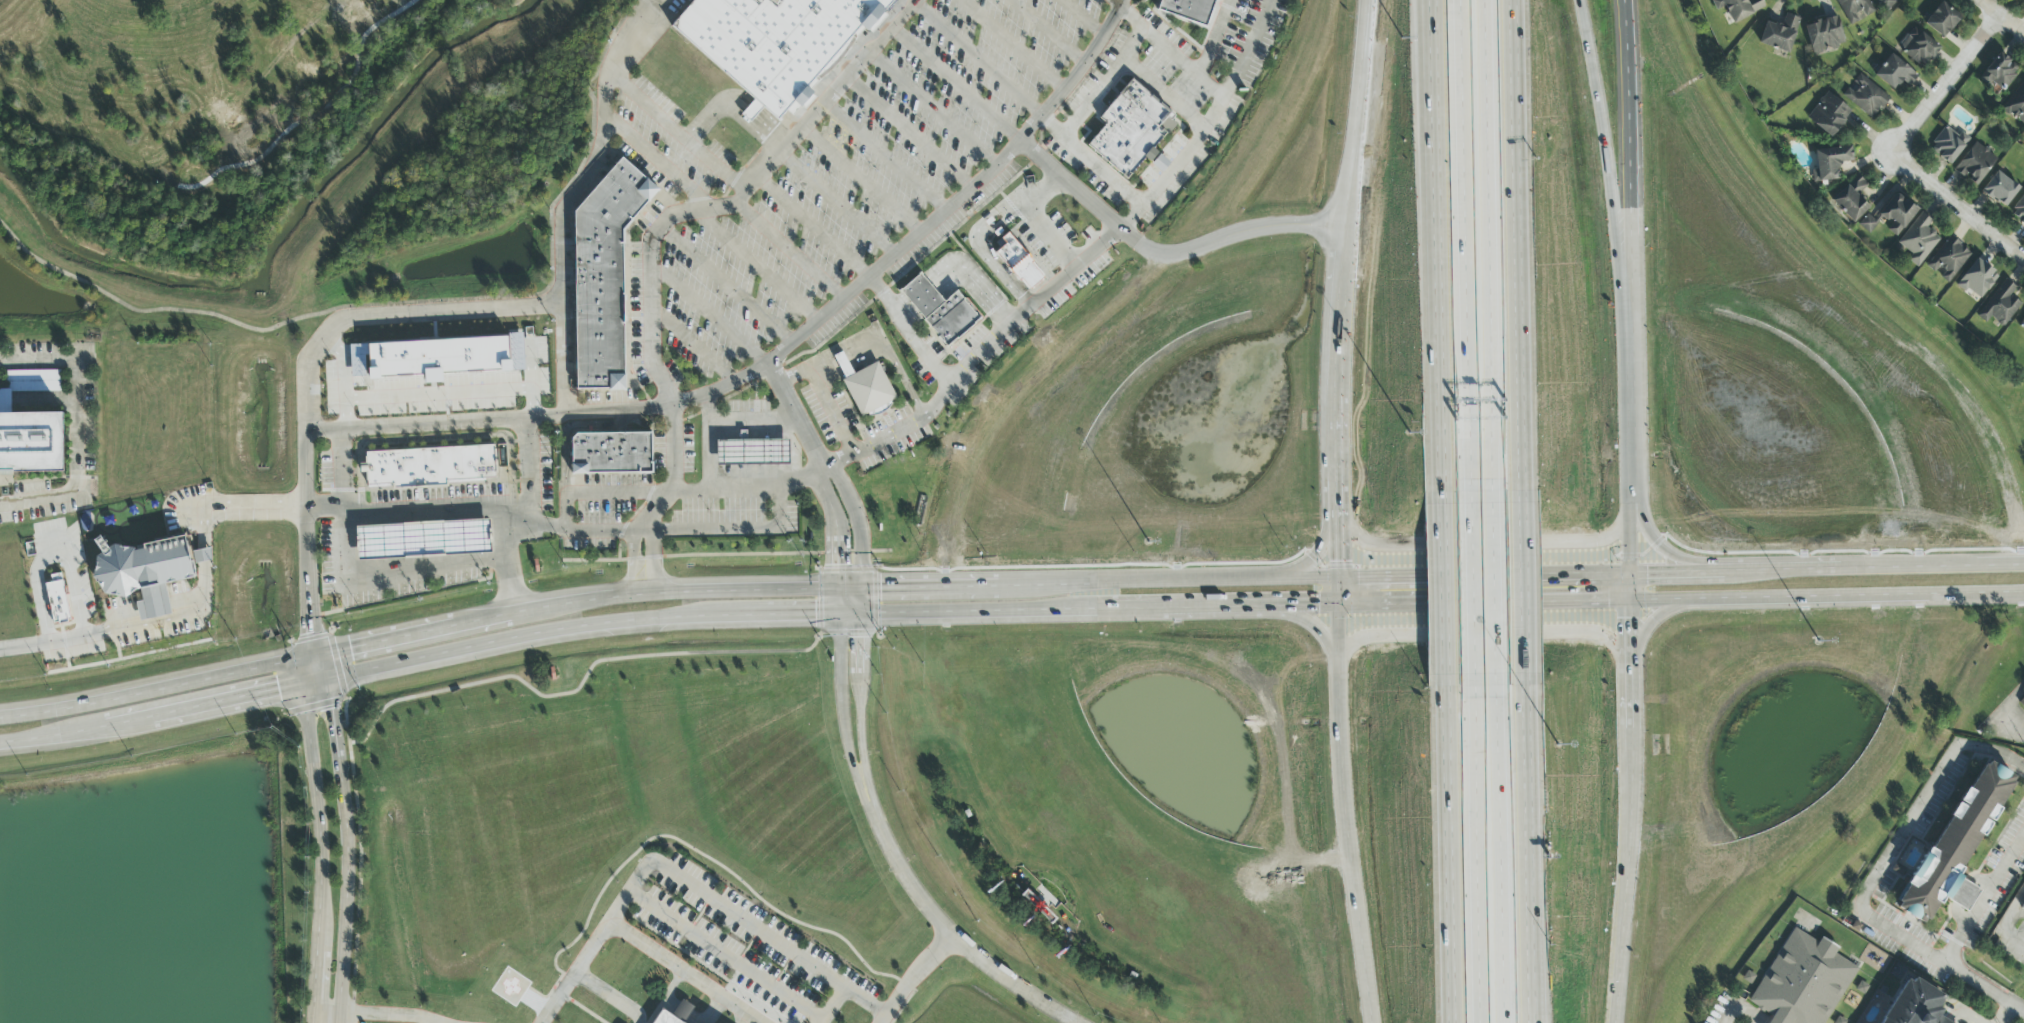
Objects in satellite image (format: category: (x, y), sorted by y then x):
building: (1886, 3)
building: (1738, 8)
building: (1190, 9)
building: (1855, 9)
road: (1086, 16)
road: (2001, 17)
road: (1221, 19)
building: (1941, 20)
road: (1051, 29)
road: (1253, 32)
building: (1779, 34)
building: (1824, 35)
building: (778, 40)
road: (1012, 44)
building: (1918, 47)
road: (1204, 55)
road: (975, 58)
road: (1524, 67)
road: (1518, 68)
building: (1999, 72)
building: (1894, 73)
road: (956, 80)
road: (1233, 80)
road: (1105, 83)
road: (1944, 83)
road: (1163, 94)
building: (1865, 96)
building: (2016, 104)
road: (932, 106)
road: (1217, 109)
road: (713, 110)
road: (751, 110)
building: (1828, 114)
building: (1129, 126)
road: (1361, 126)
road: (769, 127)
road: (677, 129)
road: (909, 130)
building: (1948, 145)
road: (886, 153)
road: (1629, 153)
road: (1090, 160)
road: (658, 161)
building: (1830, 163)
building: (1159, 164)
building: (1975, 164)
road: (862, 176)
building: (1999, 189)
road: (571, 197)
building: (1851, 200)
road: (837, 201)
road: (734, 205)
road: (1958, 208)
building: (2019, 211)
road: (1429, 215)
building: (1891, 216)
road: (1034, 218)
road: (811, 226)
river: (276, 235)
building: (1918, 240)
road: (1436, 246)
road: (1462, 246)
road: (1487, 246)
road: (984, 251)
road: (791, 252)
road: (1163, 255)
building: (1948, 259)
building: (1018, 261)
road: (758, 265)
road: (1341, 272)
building: (605, 273)
building: (1977, 279)
road: (729, 282)
road: (973, 282)
road: (1851, 293)
road: (922, 294)
road: (416, 302)
building: (2000, 305)
building: (941, 309)
road: (905, 310)
road: (707, 313)
road: (1521, 313)
road: (391, 314)
building: (2022, 325)
road: (908, 328)
road: (1337, 343)
road: (690, 346)
road: (887, 351)
road: (782, 352)
road: (972, 354)
building: (436, 358)
road: (47, 361)
road: (804, 367)
road: (342, 368)
building: (33, 376)
road: (1024, 386)
building: (869, 388)
road: (439, 393)
building: (6, 400)
road: (39, 400)
road: (1632, 405)
road: (830, 409)
road: (798, 414)
road: (754, 421)
road: (709, 442)
building: (31, 443)
building: (612, 452)
building: (743, 452)
road: (1337, 454)
building: (431, 464)
road: (78, 466)
road: (673, 476)
road: (749, 484)
road: (532, 486)
road: (619, 492)
road: (565, 495)
road: (236, 501)
road: (420, 507)
road: (856, 523)
road: (837, 527)
gas station: (425, 539)
road: (307, 540)
building: (380, 542)
road: (1630, 543)
road: (1487, 549)
road: (731, 550)
road: (1338, 552)
road: (1313, 554)
road: (50, 556)
road: (207, 556)
road: (508, 559)
road: (1733, 559)
road: (653, 560)
road: (633, 562)
traffic signals: (1338, 564)
road: (1943, 566)
traffic signals: (839, 567)
road: (1793, 568)
road: (356, 571)
building: (146, 572)
road: (1676, 572)
traffic signals: (1648, 574)
road: (1483, 577)
traffic signals: (1359, 580)
road: (1305, 581)
road: (1215, 582)
road: (1130, 584)
road: (887, 588)
road: (1443, 588)
traffic signals: (880, 589)
road: (1524, 589)
road: (1494, 590)
road: (1472, 591)
road: (1827, 596)
building: (57, 599)
road: (596, 601)
road: (861, 601)
traffic signals: (1607, 601)
road: (838, 602)
road: (1484, 604)
road: (1308, 605)
road: (1221, 606)
traffic signals: (1321, 607)
road: (1137, 609)
road: (985, 610)
road: (849, 613)
road: (799, 614)
traffic signals: (812, 614)
road: (1660, 615)
road: (720, 616)
road: (174, 618)
road: (650, 619)
traffic signals: (1631, 620)
road: (1312, 622)
road: (1338, 622)
road: (1631, 626)
road: (576, 628)
road: (415, 631)
road: (1483, 633)
traffic signals: (308, 635)
road: (53, 637)
traffic signals: (860, 642)
traffic signals: (348, 645)
road: (478, 645)
road: (398, 663)
road: (328, 677)
road: (567, 688)
road: (155, 690)
traffic signals: (276, 691)
road: (249, 698)
road: (860, 698)
road: (1632, 698)
building: (2022, 699)
road: (840, 700)
road: (2009, 705)
traffic signals: (333, 711)
road: (2009, 726)
road: (106, 729)
road: (348, 834)
road: (322, 835)
road: (1346, 837)
road: (1900, 842)
building: (1959, 844)
road: (687, 846)
road: (1449, 854)
road: (1499, 855)
road: (1531, 855)
road: (1475, 856)
road: (1627, 875)
road: (365, 878)
road: (689, 880)
road: (1964, 895)
road: (1984, 900)
building: (2023, 906)
building: (2023, 910)
road: (2018, 912)
road: (2003, 924)
road: (941, 927)
parking lot: (742, 947)
road: (745, 968)
road: (690, 971)
road: (914, 979)
building: (1802, 981)
helipad: (510, 987)
road: (1984, 989)
road: (611, 995)
building: (1914, 1004)
road: (577, 1006)
road: (1742, 1009)
building: (676, 1013)
road: (1963, 1013)
road: (385, 1015)
road: (2005, 1015)
road: (821, 1021)
road: (322, 1022)
building: (717, 1022)

